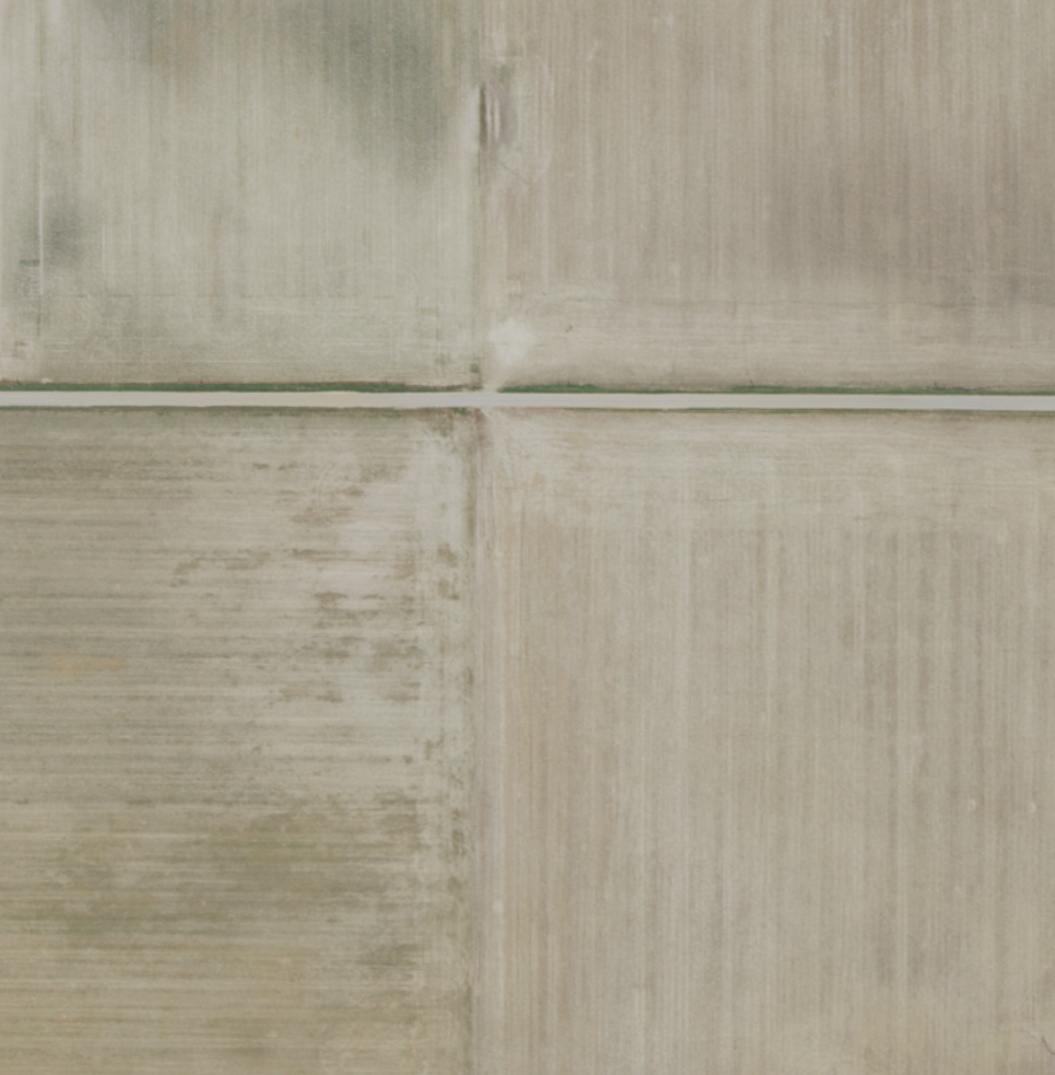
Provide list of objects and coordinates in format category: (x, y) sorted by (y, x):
road: (527, 401)

